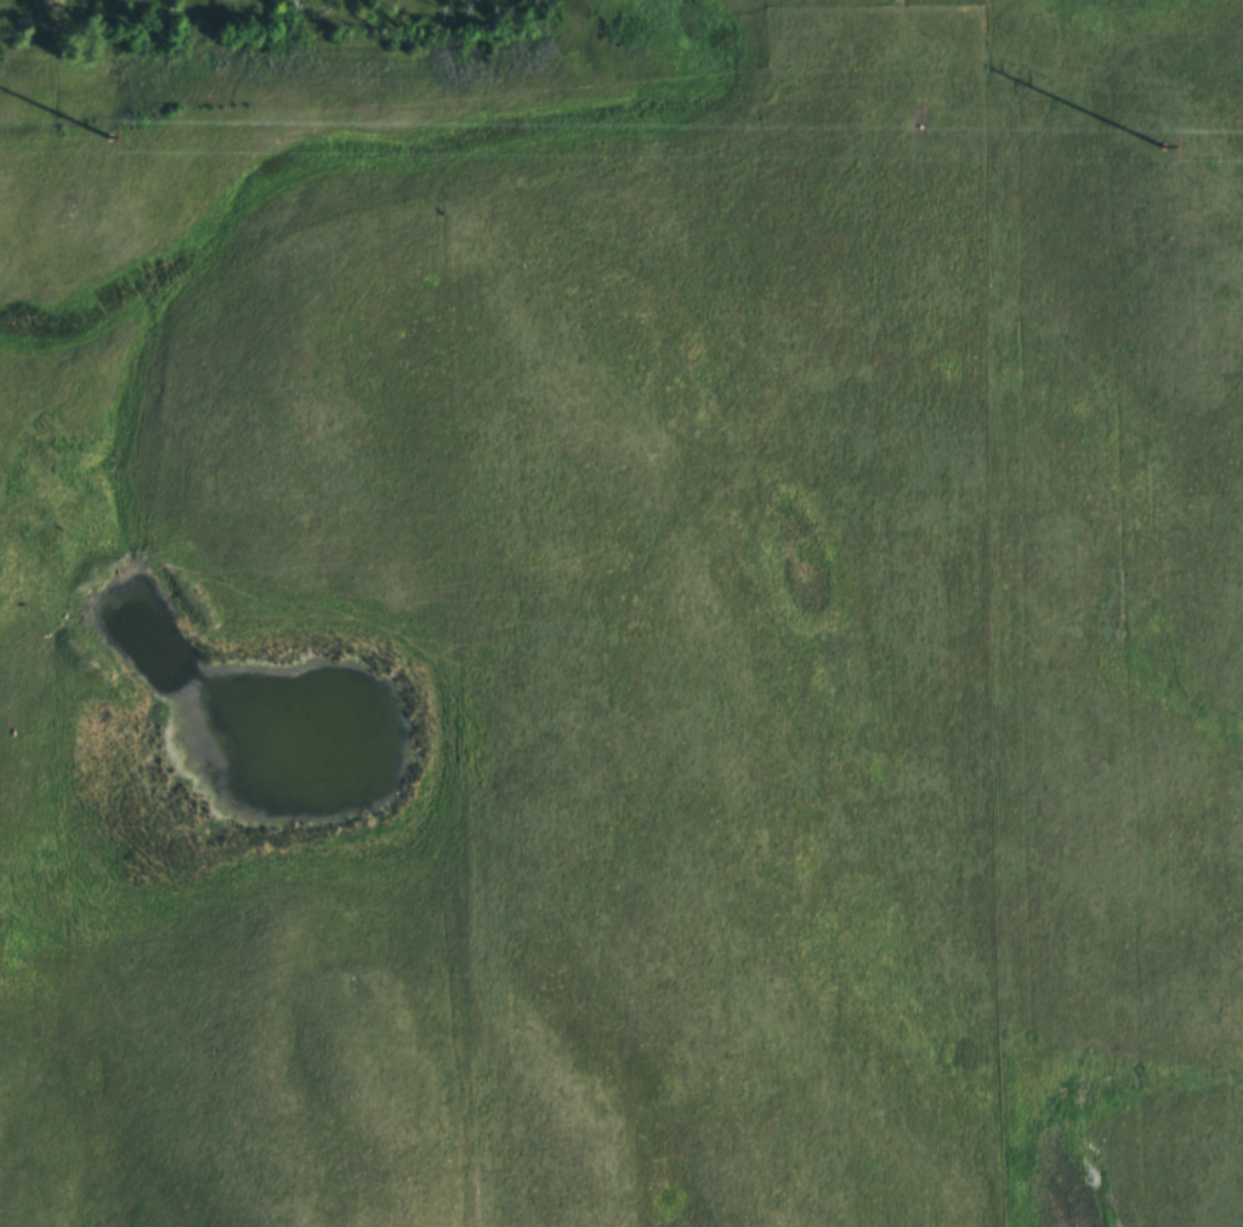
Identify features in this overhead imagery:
power tower: (109, 135)
power tower: (1160, 140)

